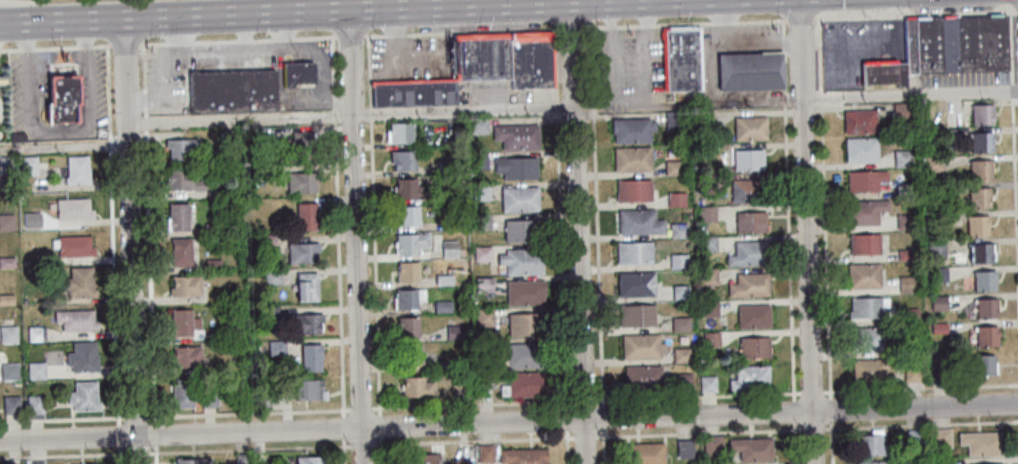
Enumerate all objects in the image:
road: (436, 4)
road: (725, 10)
road: (305, 11)
road: (1015, 11)
road: (644, 12)
road: (610, 13)
road: (912, 14)
road: (720, 21)
road: (800, 21)
road: (627, 25)
road: (646, 25)
road: (571, 26)
road: (595, 26)
road: (610, 26)
road: (783, 27)
road: (282, 28)
road: (244, 29)
road: (178, 32)
road: (462, 32)
road: (725, 33)
road: (351, 35)
road: (264, 37)
road: (180, 41)
road: (155, 42)
road: (126, 43)
road: (783, 43)
road: (292, 44)
building: (952, 44)
road: (727, 45)
road: (54, 46)
road: (231, 46)
road: (187, 48)
road: (175, 49)
road: (1009, 49)
parking lot: (232, 56)
road: (818, 56)
parking lot: (409, 57)
road: (613, 57)
road: (645, 57)
building: (682, 60)
road: (324, 63)
road: (554, 66)
parking lot: (627, 67)
road: (143, 68)
road: (166, 68)
building: (476, 69)
building: (749, 71)
road: (369, 72)
building: (299, 73)
road: (333, 73)
road: (784, 73)
building: (881, 73)
parking lot: (165, 74)
building: (3, 78)
road: (630, 89)
road: (108, 91)
building: (231, 91)
road: (1010, 92)
road: (326, 93)
parking lot: (488, 95)
parking lot: (300, 96)
road: (650, 96)
building: (63, 99)
road: (784, 99)
road: (836, 99)
road: (134, 100)
road: (155, 100)
road: (166, 100)
road: (338, 100)
road: (304, 101)
road: (144, 103)
road: (820, 104)
road: (556, 109)
building: (899, 110)
building: (979, 115)
road: (145, 116)
road: (370, 116)
road: (333, 117)
road: (350, 117)
building: (707, 117)
building: (952, 118)
building: (671, 120)
building: (857, 122)
road: (145, 125)
building: (479, 126)
building: (750, 128)
building: (633, 130)
building: (400, 132)
road: (145, 133)
building: (228, 135)
building: (517, 136)
road: (146, 138)
building: (303, 139)
building: (979, 143)
road: (110, 145)
road: (63, 146)
building: (182, 149)
building: (859, 150)
building: (900, 158)
building: (633, 159)
building: (404, 160)
building: (749, 160)
building: (480, 161)
building: (6, 163)
building: (931, 163)
building: (29, 165)
building: (446, 165)
building: (516, 167)
building: (674, 167)
building: (78, 169)
building: (977, 170)
building: (704, 178)
building: (185, 180)
building: (863, 180)
building: (302, 181)
building: (406, 187)
building: (933, 188)
building: (221, 190)
building: (636, 190)
building: (748, 190)
building: (902, 190)
building: (481, 191)
building: (449, 194)
building: (676, 198)
building: (977, 198)
building: (520, 199)
road: (1014, 200)
building: (73, 208)
building: (862, 212)
building: (707, 213)
building: (409, 215)
road: (596, 215)
building: (178, 216)
building: (307, 216)
building: (935, 217)
building: (482, 219)
building: (641, 221)
building: (904, 221)
building: (8, 222)
building: (454, 222)
building: (752, 222)
building: (974, 225)
building: (213, 227)
building: (522, 230)
building: (679, 231)
road: (805, 231)
road: (577, 232)
road: (356, 236)
building: (266, 239)
road: (130, 240)
building: (412, 243)
building: (709, 243)
building: (862, 244)
building: (74, 246)
building: (450, 247)
building: (933, 248)
building: (182, 251)
building: (304, 252)
building: (483, 252)
building: (636, 252)
road: (789, 252)
building: (977, 253)
building: (746, 254)
road: (826, 255)
building: (905, 255)
building: (521, 260)
building: (8, 261)
building: (679, 261)
building: (27, 262)
building: (214, 262)
road: (561, 262)
road: (339, 270)
road: (374, 270)
building: (407, 272)
building: (936, 275)
building: (273, 276)
building: (861, 276)
building: (709, 278)
building: (448, 279)
building: (982, 281)
building: (79, 282)
building: (485, 283)
building: (637, 284)
building: (903, 284)
building: (186, 285)
building: (307, 285)
building: (750, 285)
building: (526, 293)
building: (680, 293)
building: (6, 298)
building: (406, 299)
building: (24, 300)
road: (151, 302)
building: (936, 303)
building: (443, 304)
building: (710, 307)
road: (115, 308)
building: (865, 308)
building: (983, 308)
building: (271, 310)
building: (637, 315)
building: (907, 315)
building: (75, 317)
building: (485, 317)
building: (754, 317)
building: (186, 321)
building: (308, 323)
building: (523, 324)
building: (682, 324)
building: (237, 325)
building: (409, 326)
building: (937, 329)
building: (455, 331)
building: (36, 332)
building: (8, 333)
building: (984, 336)
building: (711, 339)
building: (865, 339)
building: (641, 345)
building: (277, 347)
building: (486, 347)
building: (755, 348)
building: (899, 348)
building: (412, 355)
building: (524, 355)
building: (683, 355)
building: (82, 356)
building: (312, 356)
building: (187, 357)
building: (458, 362)
building: (981, 365)
building: (870, 369)
building: (36, 370)
building: (10, 371)
building: (910, 372)
building: (644, 375)
building: (936, 375)
building: (459, 378)
building: (751, 378)
building: (485, 379)
building: (684, 381)
building: (524, 384)
building: (708, 384)
building: (419, 386)
road: (920, 388)
building: (310, 389)
road: (813, 390)
building: (84, 395)
building: (183, 395)
road: (698, 395)
building: (262, 397)
building: (210, 399)
road: (583, 399)
building: (12, 402)
building: (35, 403)
road: (472, 403)
road: (360, 407)
road: (831, 409)
road: (794, 410)
road: (175, 417)
road: (603, 417)
road: (567, 420)
road: (509, 424)
road: (921, 425)
road: (344, 426)
road: (380, 427)
road: (815, 428)
road: (699, 431)
road: (585, 435)
building: (941, 437)
road: (473, 440)
road: (795, 442)
road: (831, 442)
building: (980, 442)
building: (870, 443)
road: (361, 444)
building: (713, 445)
road: (603, 446)
road: (567, 447)
building: (686, 448)
building: (752, 448)
road: (345, 450)
road: (380, 450)
road: (175, 452)
building: (485, 453)
building: (645, 453)
building: (521, 456)
building: (422, 459)
building: (239, 460)
building: (309, 460)
building: (194, 461)
building: (460, 461)
building: (940, 461)
building: (873, 462)
building: (86, 463)
building: (994, 463)

